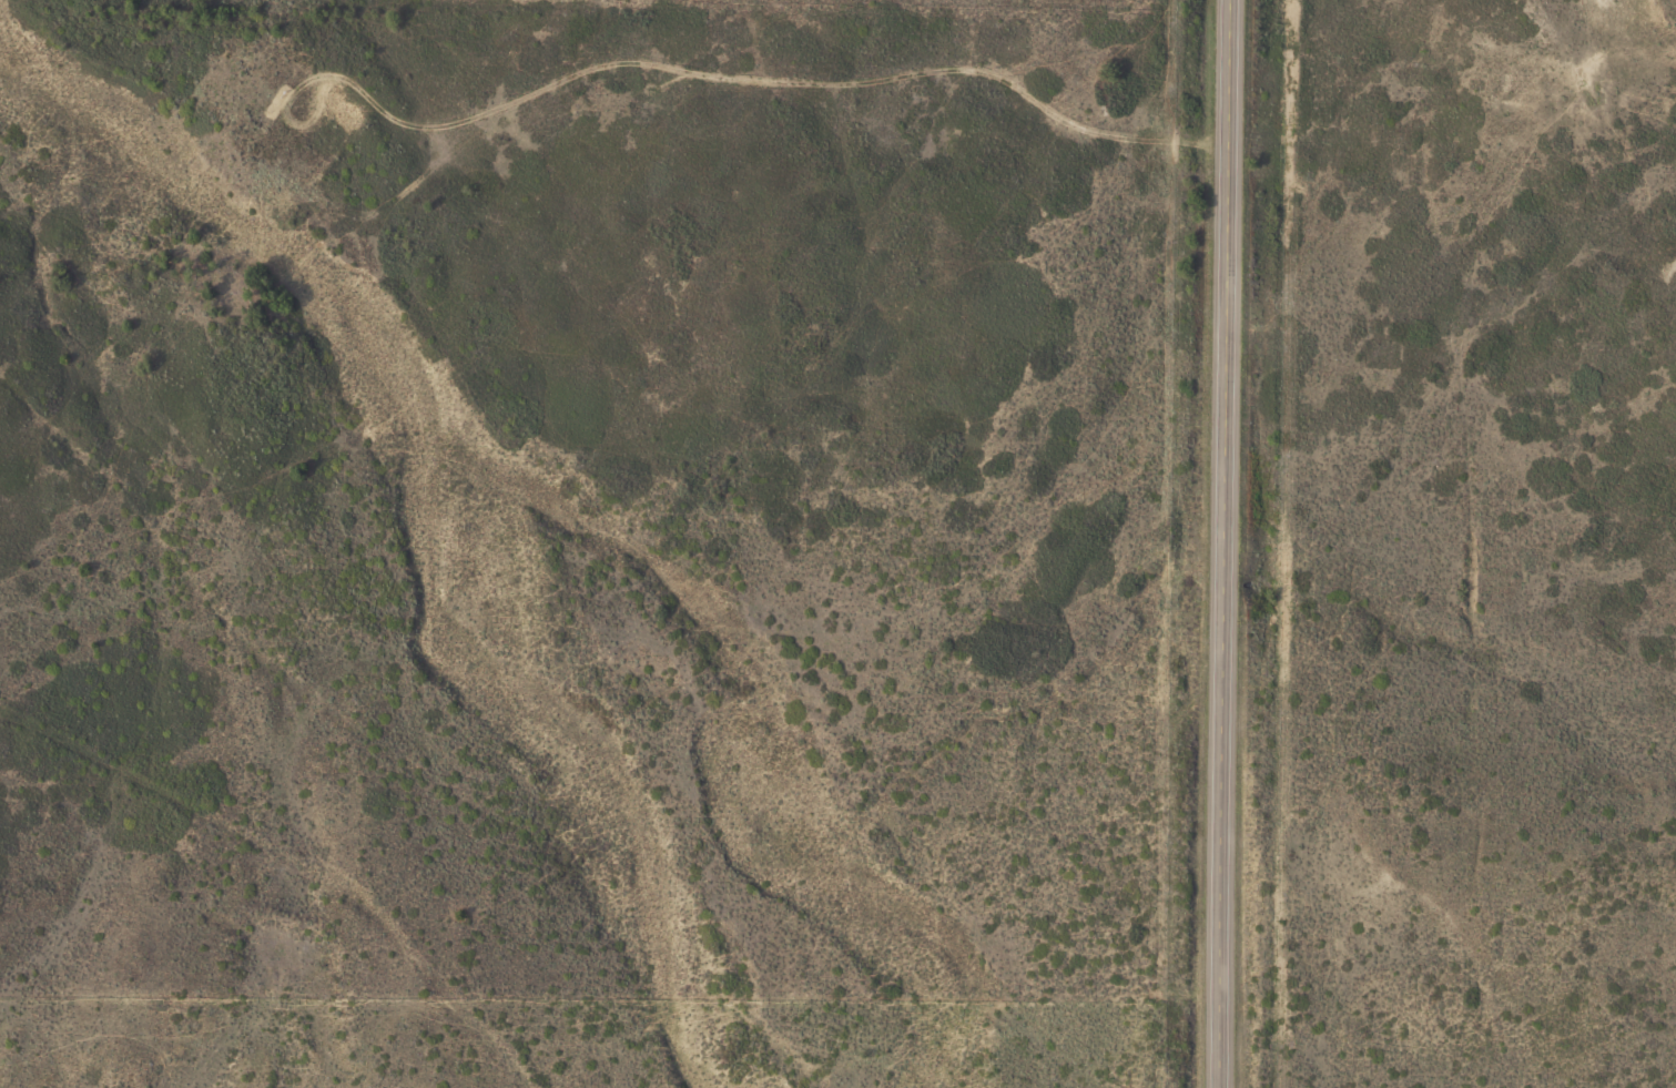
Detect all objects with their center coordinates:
road: (1240, 543)

